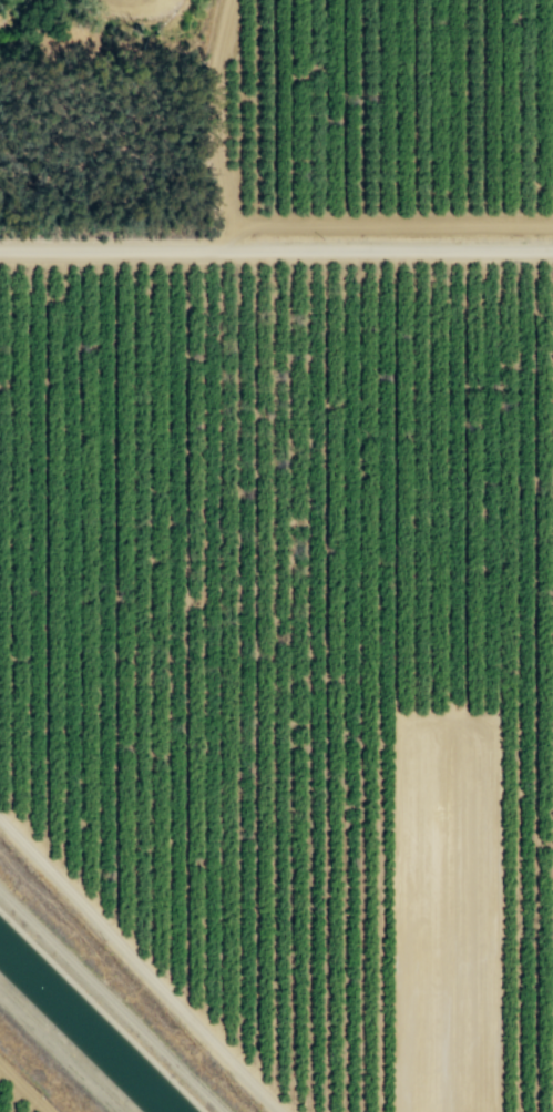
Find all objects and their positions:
road: (276, 247)
road: (139, 967)
road: (23, 1088)

